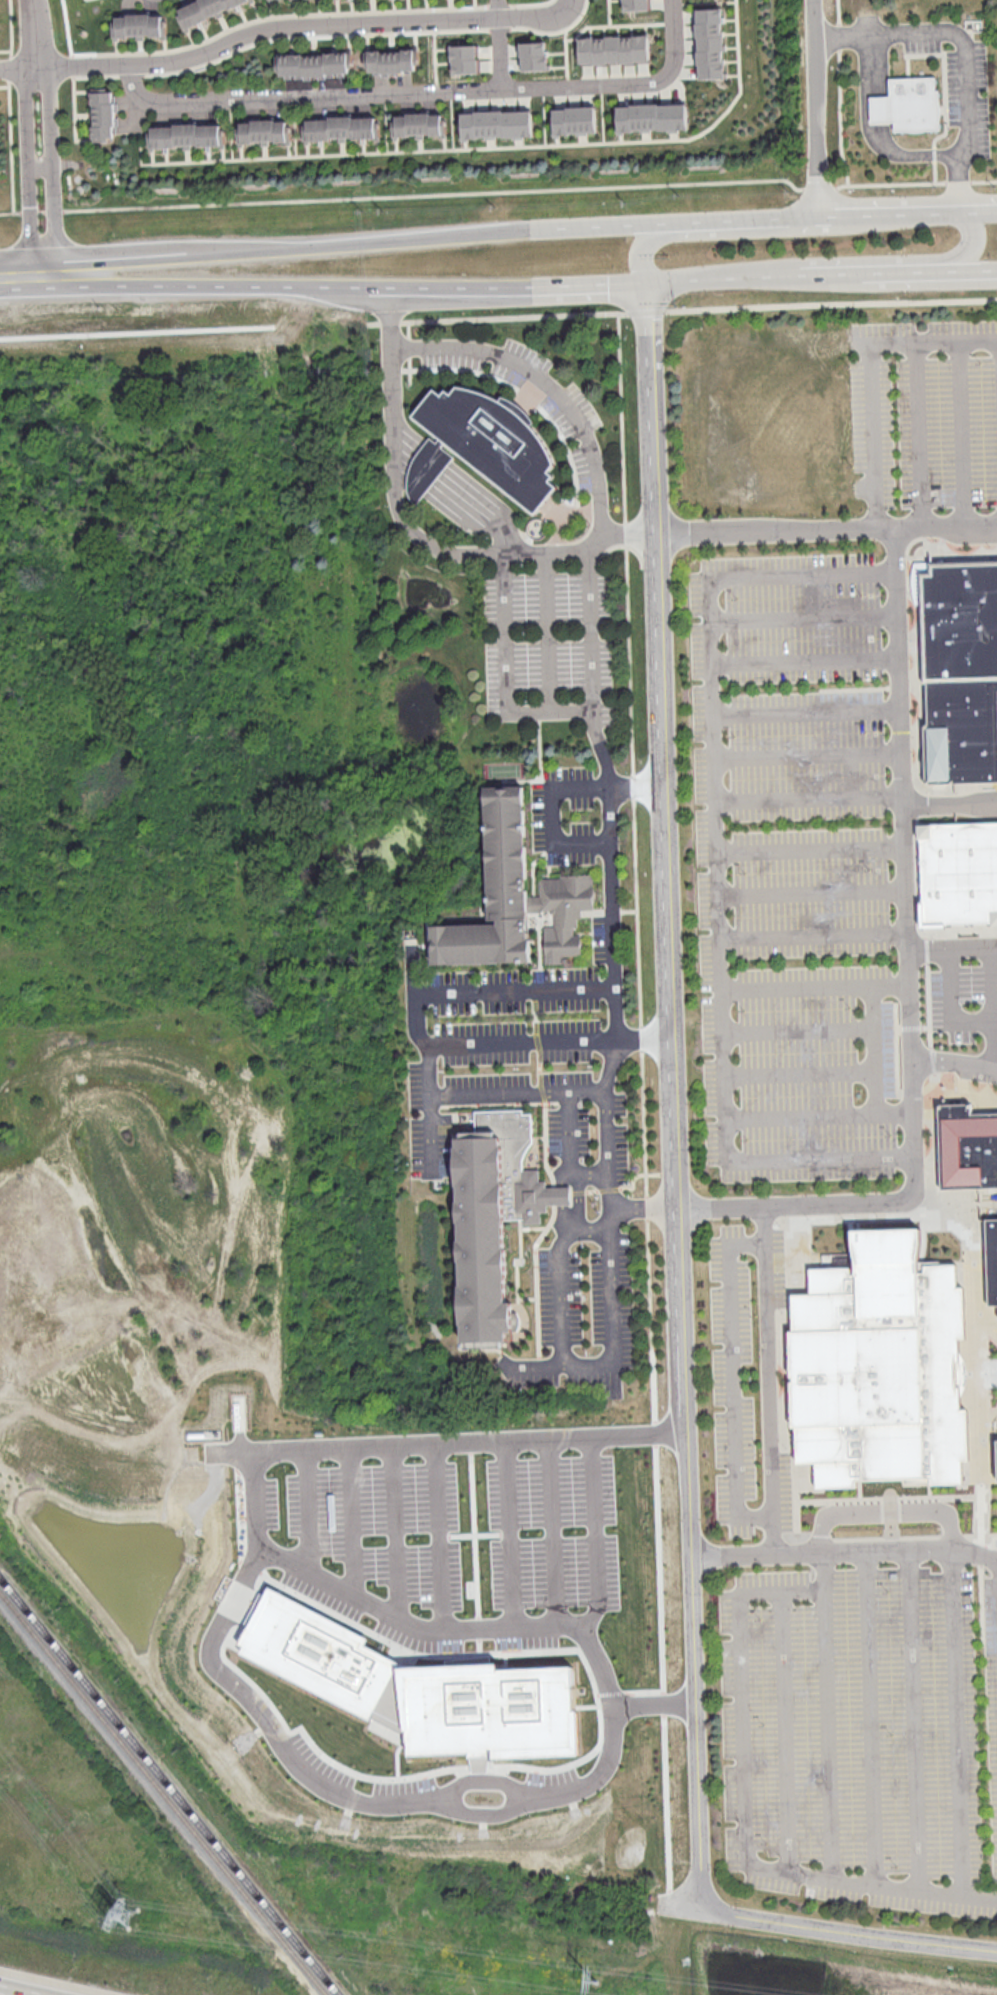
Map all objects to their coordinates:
building: (635, 5)
building: (205, 10)
building: (141, 25)
road: (307, 26)
road: (850, 32)
road: (40, 33)
building: (710, 43)
road: (500, 44)
building: (613, 49)
building: (533, 56)
road: (871, 56)
building: (465, 59)
building: (393, 61)
building: (316, 64)
road: (21, 66)
road: (739, 81)
road: (423, 90)
road: (944, 90)
road: (840, 91)
building: (907, 105)
road: (817, 107)
road: (942, 109)
building: (104, 114)
building: (652, 116)
building: (574, 120)
building: (420, 124)
building: (496, 124)
building: (343, 128)
building: (265, 131)
building: (187, 135)
road: (10, 139)
road: (140, 147)
road: (414, 150)
road: (27, 168)
road: (41, 168)
road: (55, 169)
road: (962, 178)
road: (500, 190)
road: (917, 210)
road: (752, 218)
road: (609, 225)
road: (370, 240)
road: (976, 241)
road: (645, 251)
road: (132, 255)
road: (975, 271)
road: (906, 275)
road: (42, 276)
road: (829, 278)
road: (724, 283)
road: (235, 285)
traffic signals: (649, 286)
road: (601, 289)
road: (471, 290)
road: (682, 308)
road: (137, 331)
road: (869, 371)
road: (544, 383)
parking lot: (923, 415)
road: (962, 433)
road: (917, 434)
building: (491, 438)
road: (457, 491)
road: (827, 529)
road: (418, 532)
road: (801, 615)
road: (548, 631)
parking lot: (545, 637)
road: (803, 661)
building: (961, 673)
road: (552, 711)
road: (804, 713)
road: (806, 754)
road: (607, 774)
road: (807, 798)
road: (949, 803)
parking lot: (568, 815)
road: (550, 816)
road: (808, 849)
parking lot: (791, 865)
road: (715, 867)
building: (961, 875)
road: (810, 892)
building: (513, 896)
road: (811, 936)
road: (613, 938)
road: (951, 945)
road: (906, 978)
road: (812, 985)
road: (425, 991)
road: (949, 1004)
road: (991, 1007)
road: (796, 1028)
road: (522, 1041)
road: (874, 1049)
road: (953, 1061)
road: (610, 1063)
road: (798, 1072)
road: (576, 1088)
road: (674, 1095)
road: (928, 1107)
road: (642, 1108)
road: (817, 1116)
road: (570, 1149)
parking lot: (588, 1159)
building: (972, 1167)
road: (577, 1202)
road: (644, 1209)
building: (495, 1214)
road: (560, 1276)
road: (786, 1298)
road: (612, 1338)
building: (880, 1365)
road: (732, 1378)
road: (769, 1381)
parking lot: (733, 1384)
road: (978, 1428)
road: (988, 1428)
building: (996, 1458)
road: (885, 1513)
road: (794, 1516)
road: (578, 1529)
road: (843, 1553)
building: (420, 1687)
road: (646, 1699)
road: (869, 1717)
road: (912, 1720)
road: (957, 1722)
road: (784, 1731)
road: (827, 1733)
parking lot: (860, 1736)
road: (290, 1762)
railway: (169, 1785)
railway: (163, 1792)
road: (743, 1793)
road: (679, 1904)
power tower: (122, 1915)
road: (847, 1932)
power tower: (594, 1982)
road: (12, 1992)

